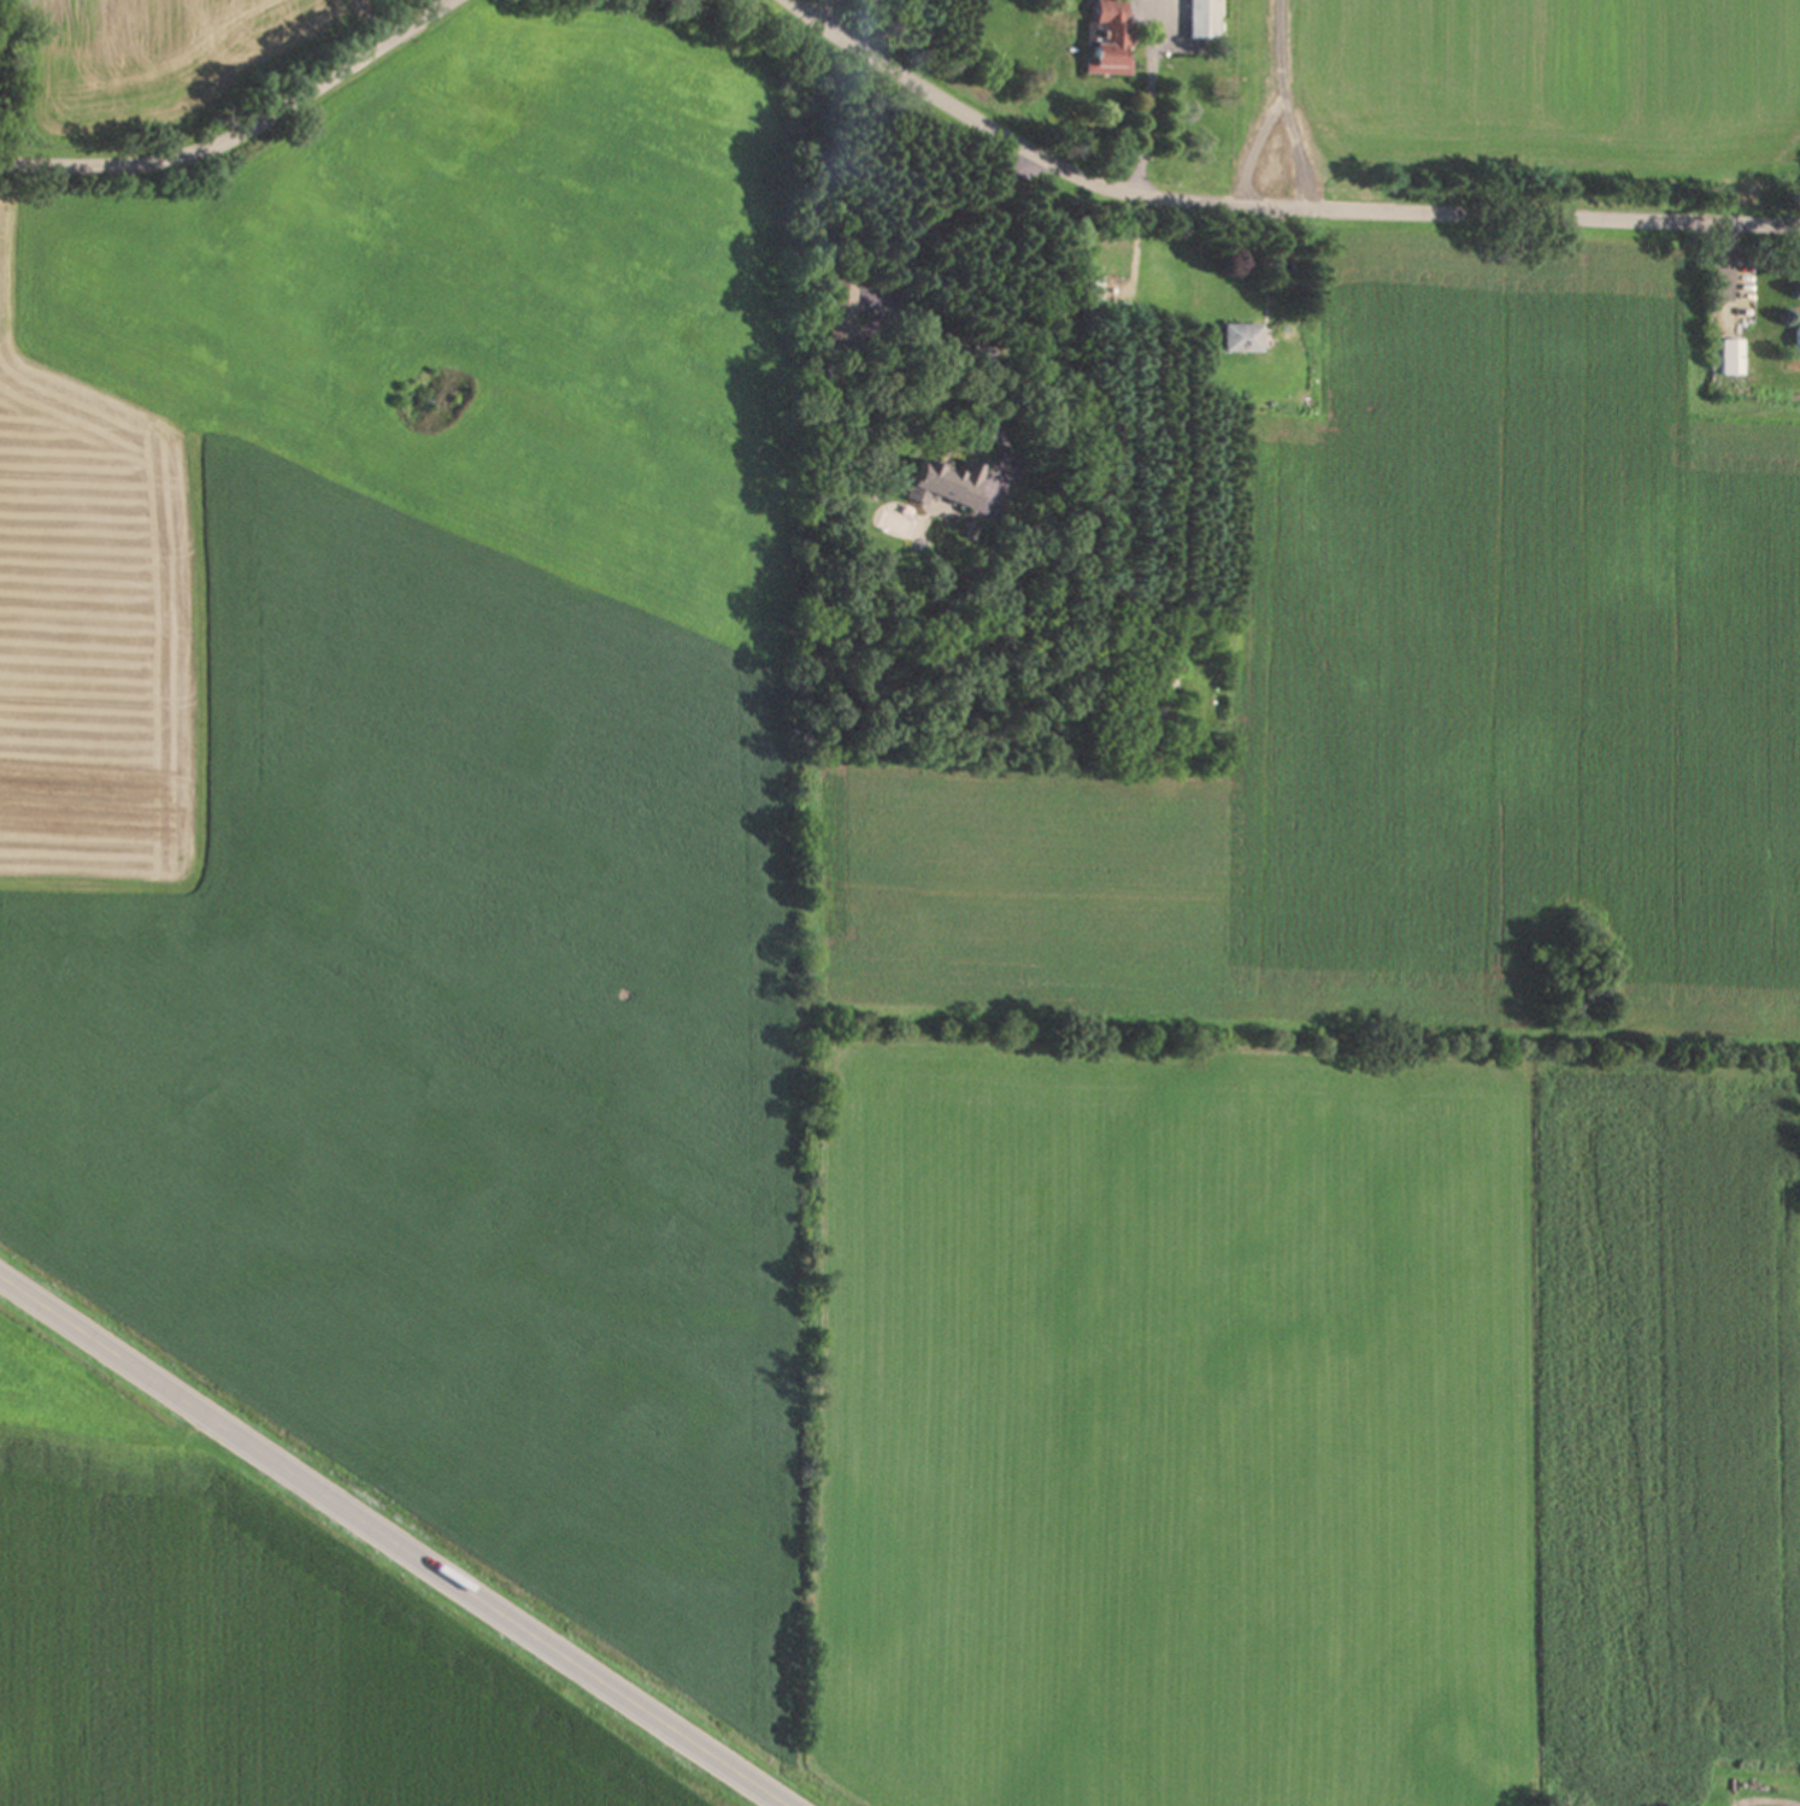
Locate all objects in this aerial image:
building: (1196, 18)
building: (1105, 36)
road: (1149, 104)
road: (240, 127)
road: (1266, 206)
building: (1090, 288)
building: (840, 307)
building: (1237, 336)
building: (1793, 339)
building: (1728, 355)
building: (937, 486)
road: (392, 1543)

